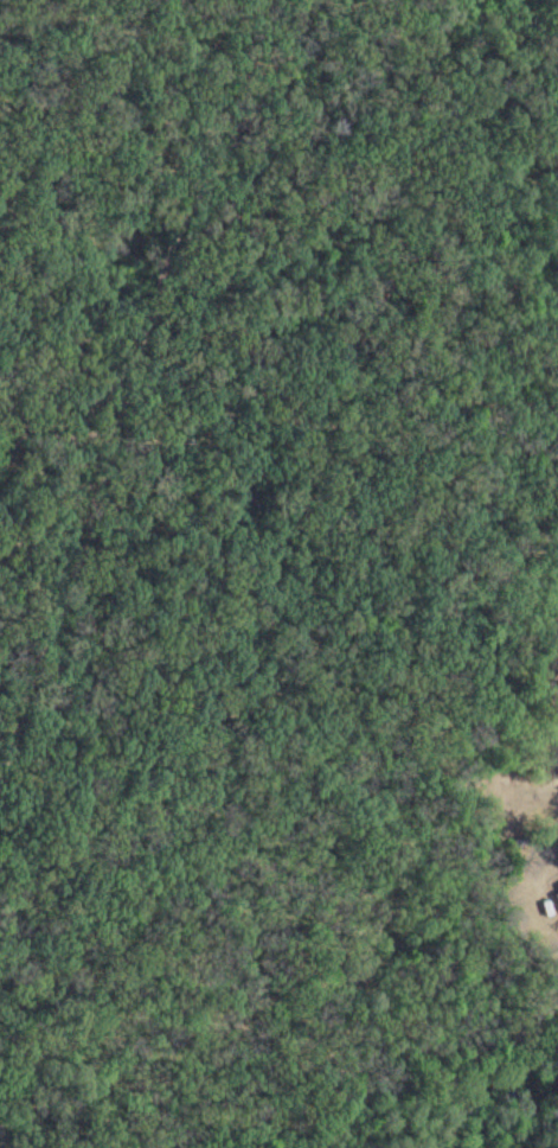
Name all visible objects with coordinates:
road: (554, 720)
building: (556, 891)

